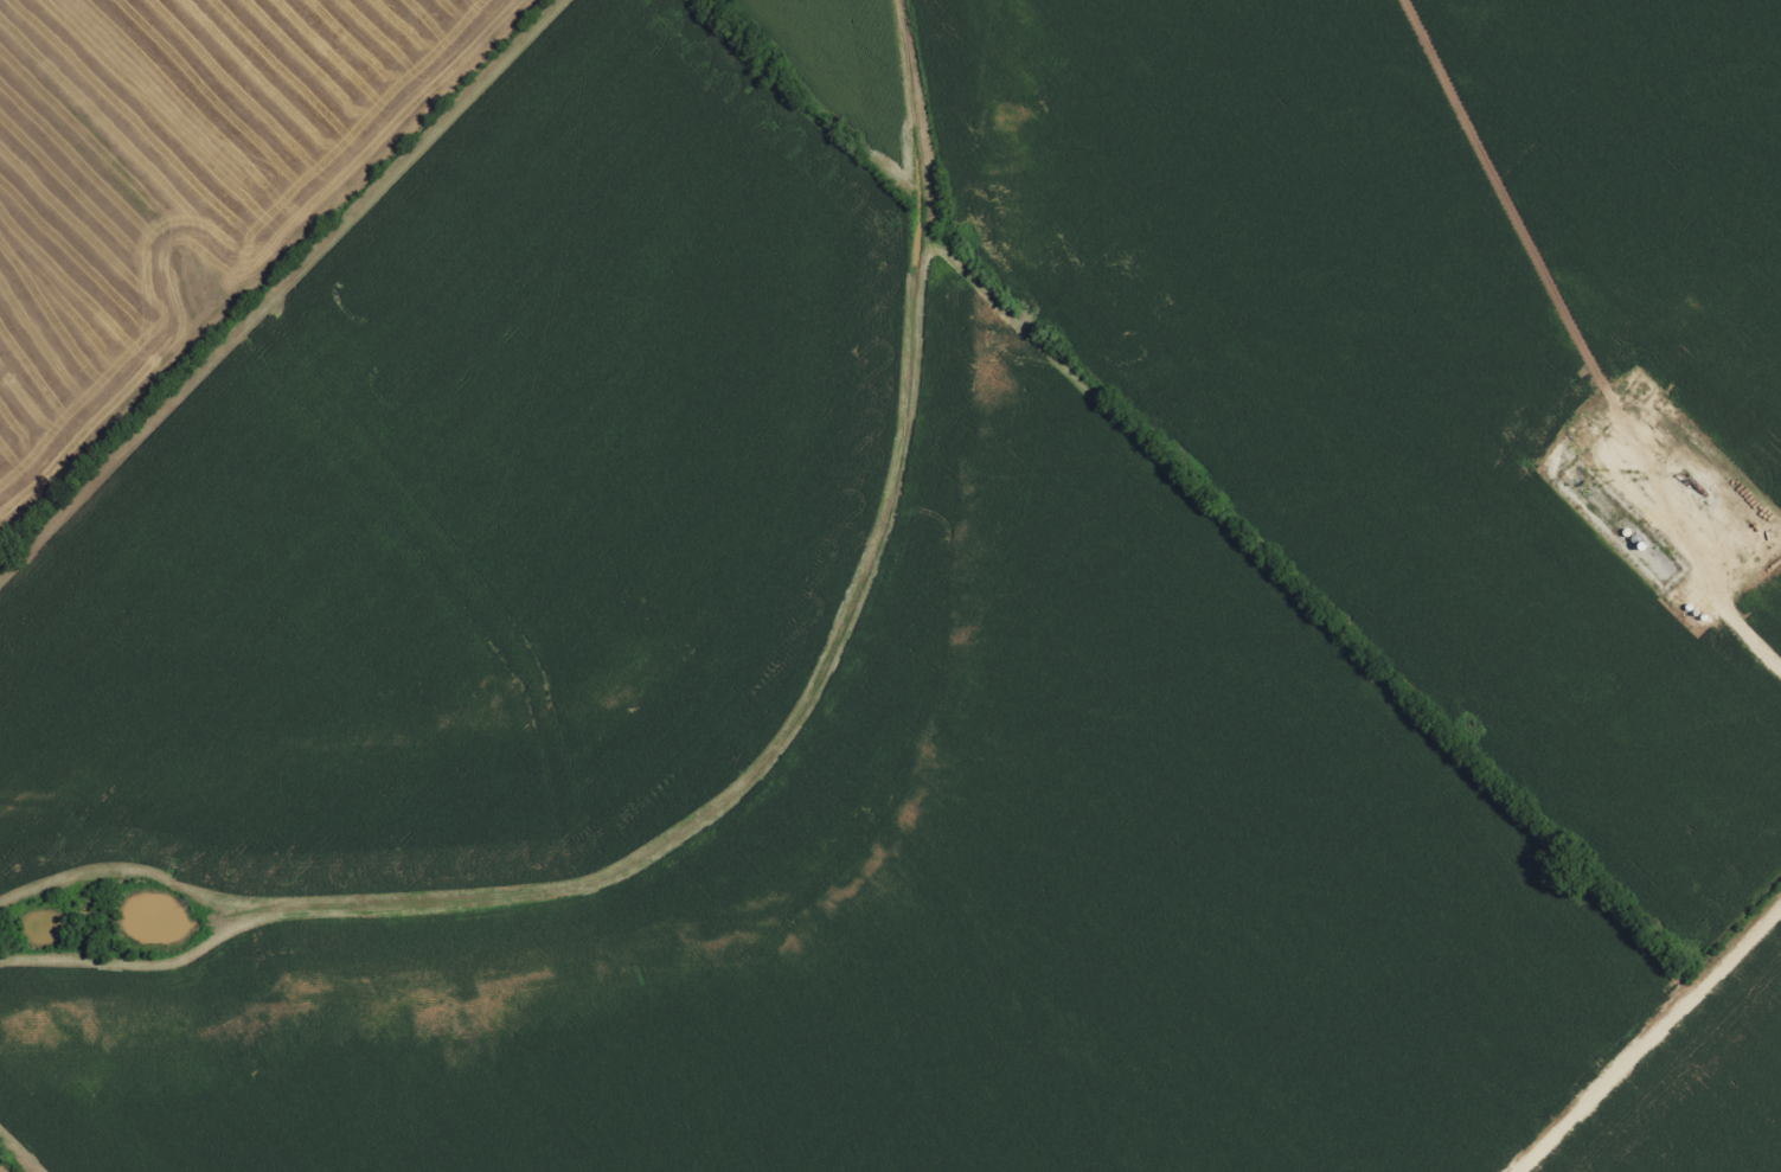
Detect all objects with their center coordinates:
road: (1666, 1052)

